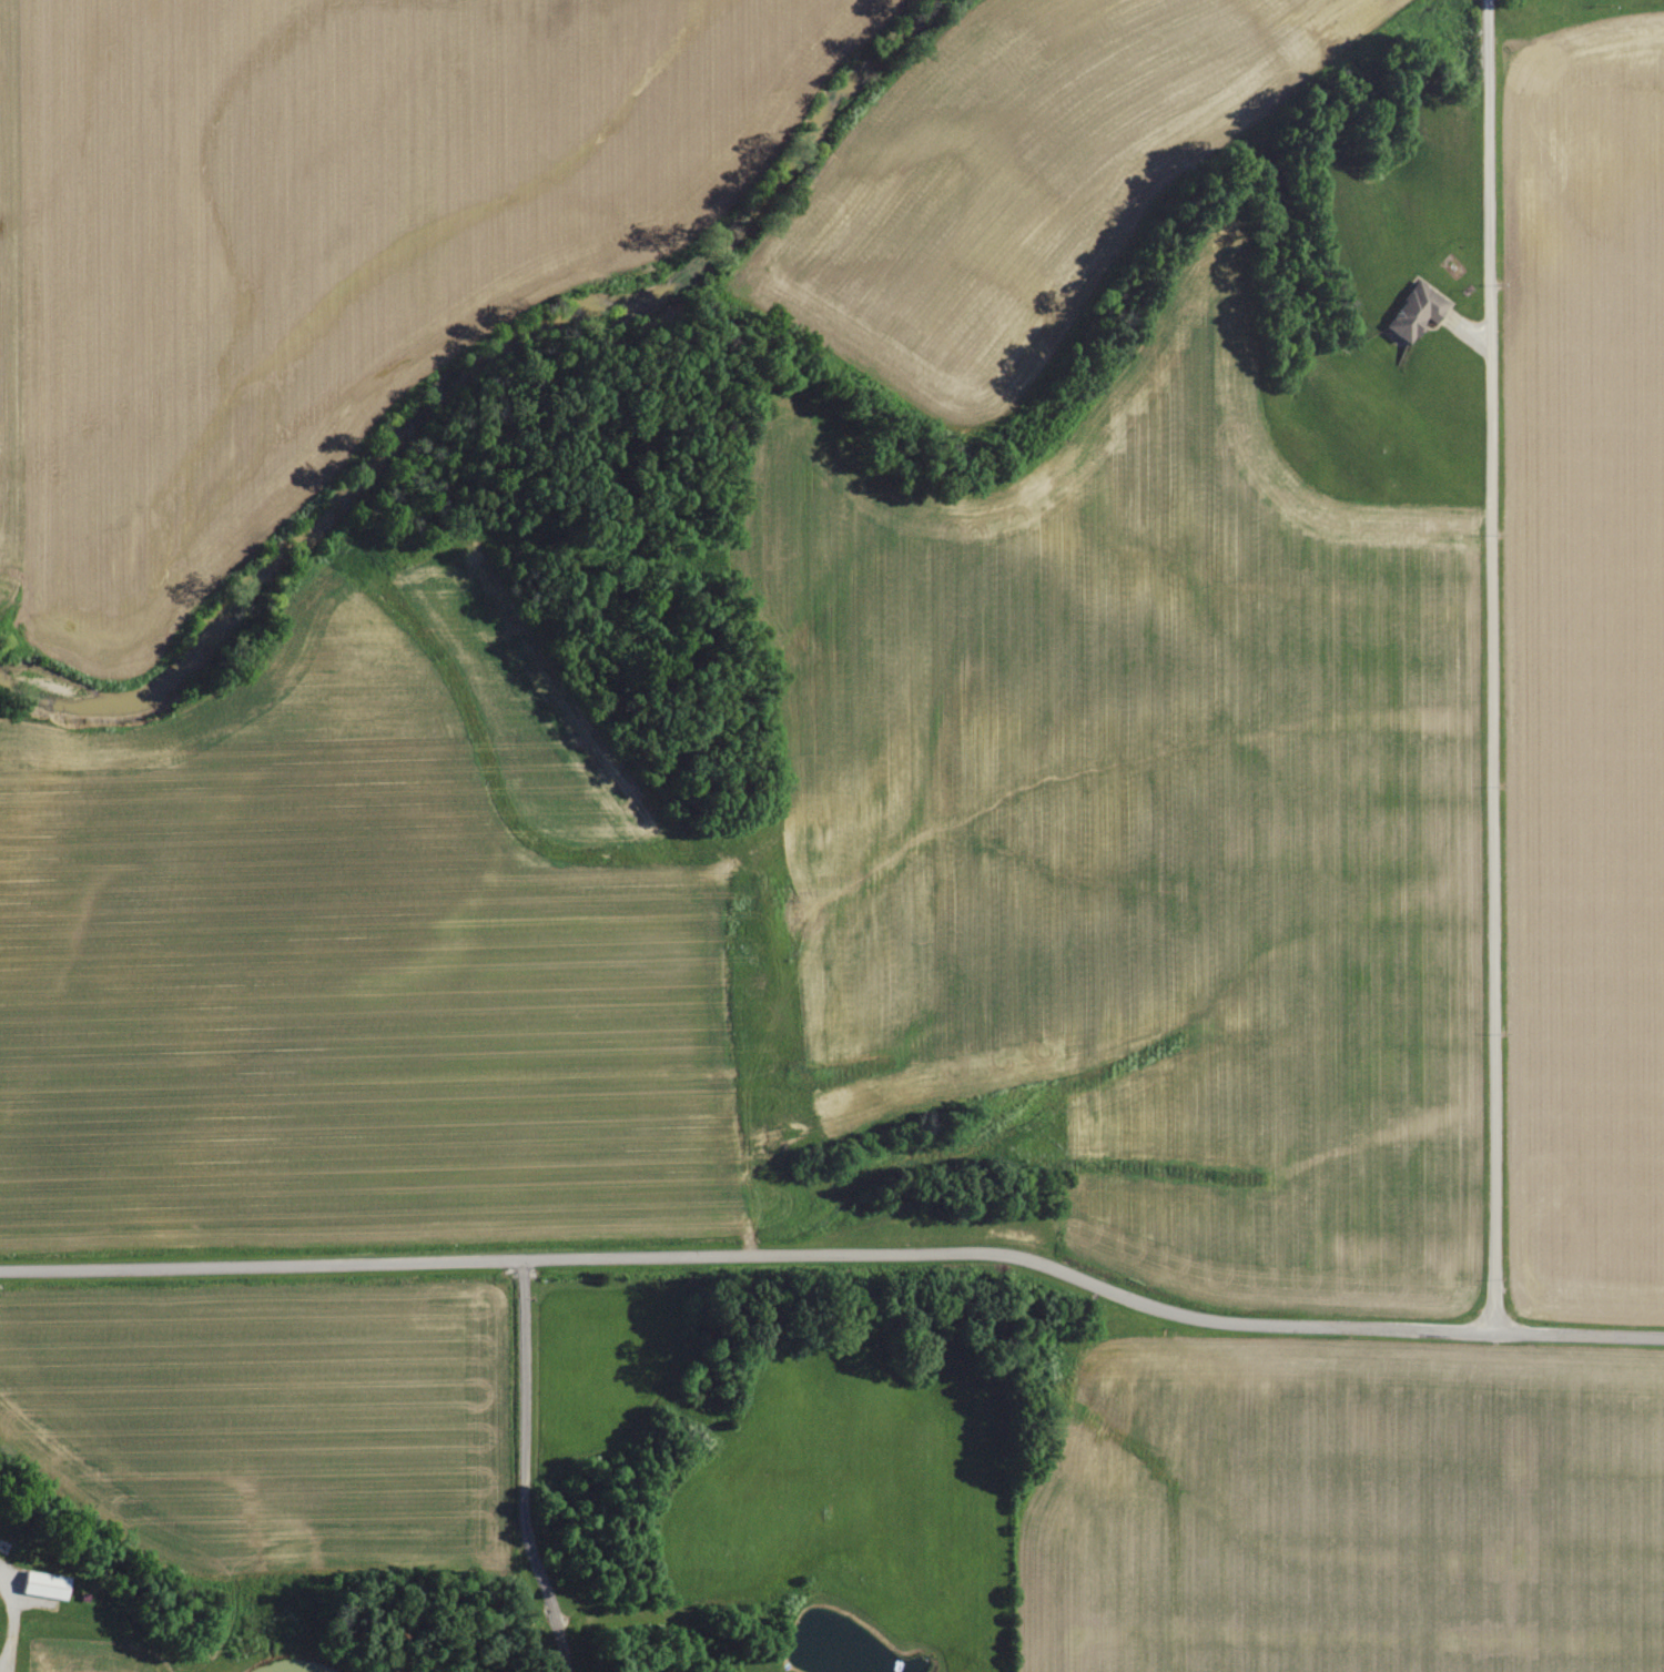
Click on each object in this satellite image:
building: (1413, 313)
road: (1493, 666)
crop: (363, 952)
road: (838, 1253)
road: (524, 1468)
crop: (1343, 1510)
building: (42, 1585)
road: (10, 1627)

